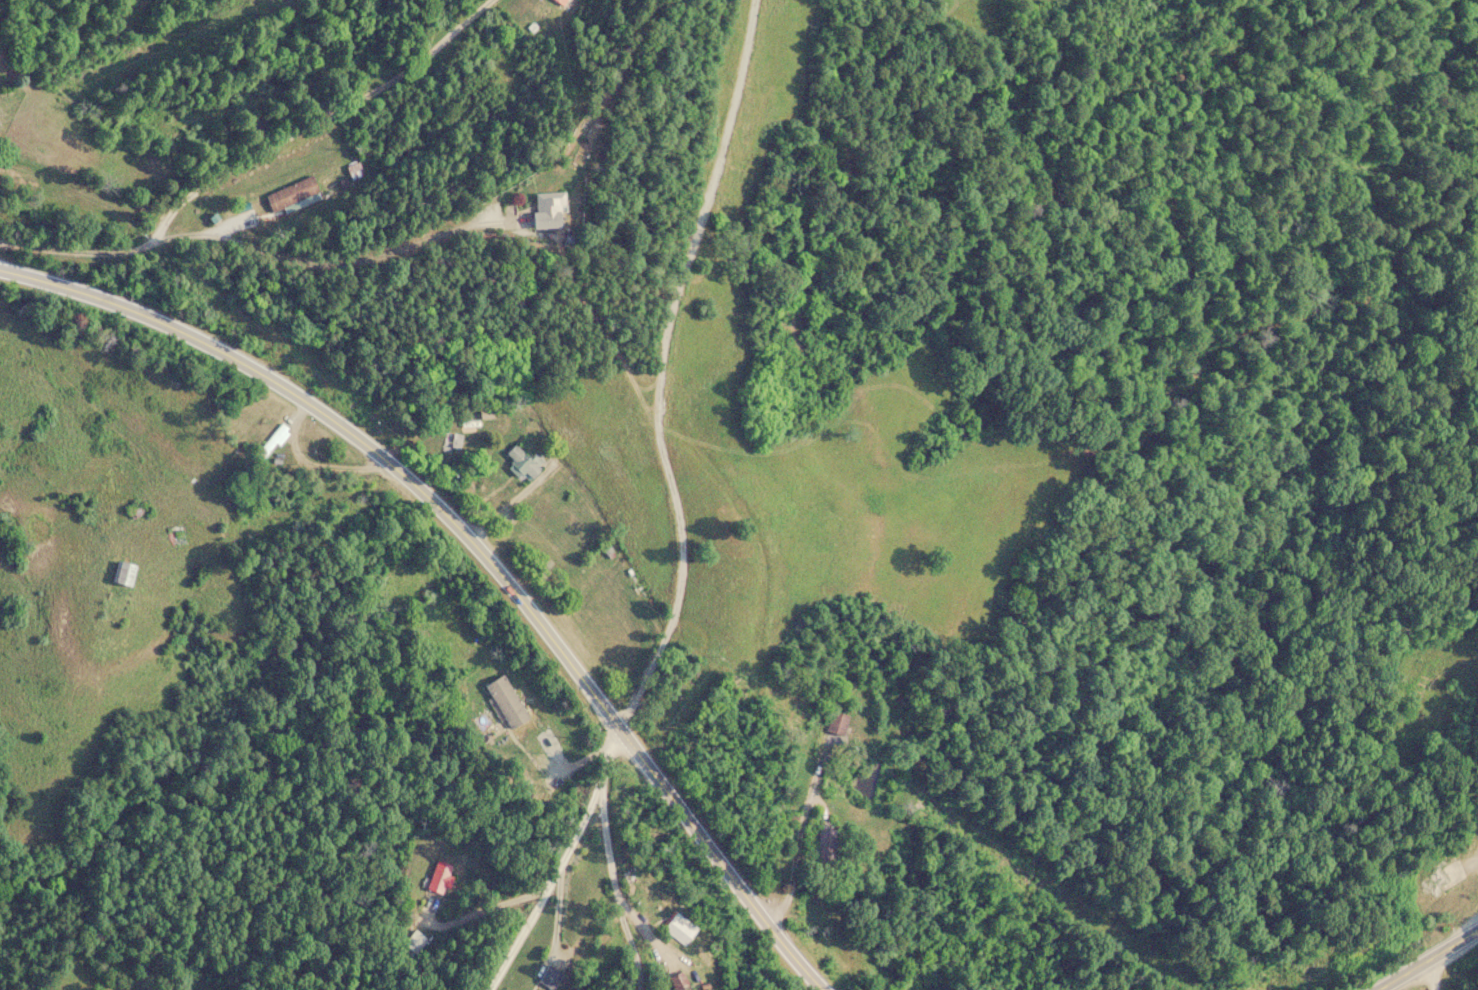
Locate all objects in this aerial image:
building: (563, 2)
road: (241, 155)
building: (295, 194)
building: (552, 210)
building: (453, 442)
building: (527, 464)
road: (478, 544)
building: (508, 702)
road: (560, 866)
building: (442, 878)
road: (613, 887)
building: (681, 929)
road: (1429, 960)
road: (1428, 977)
building: (552, 978)

